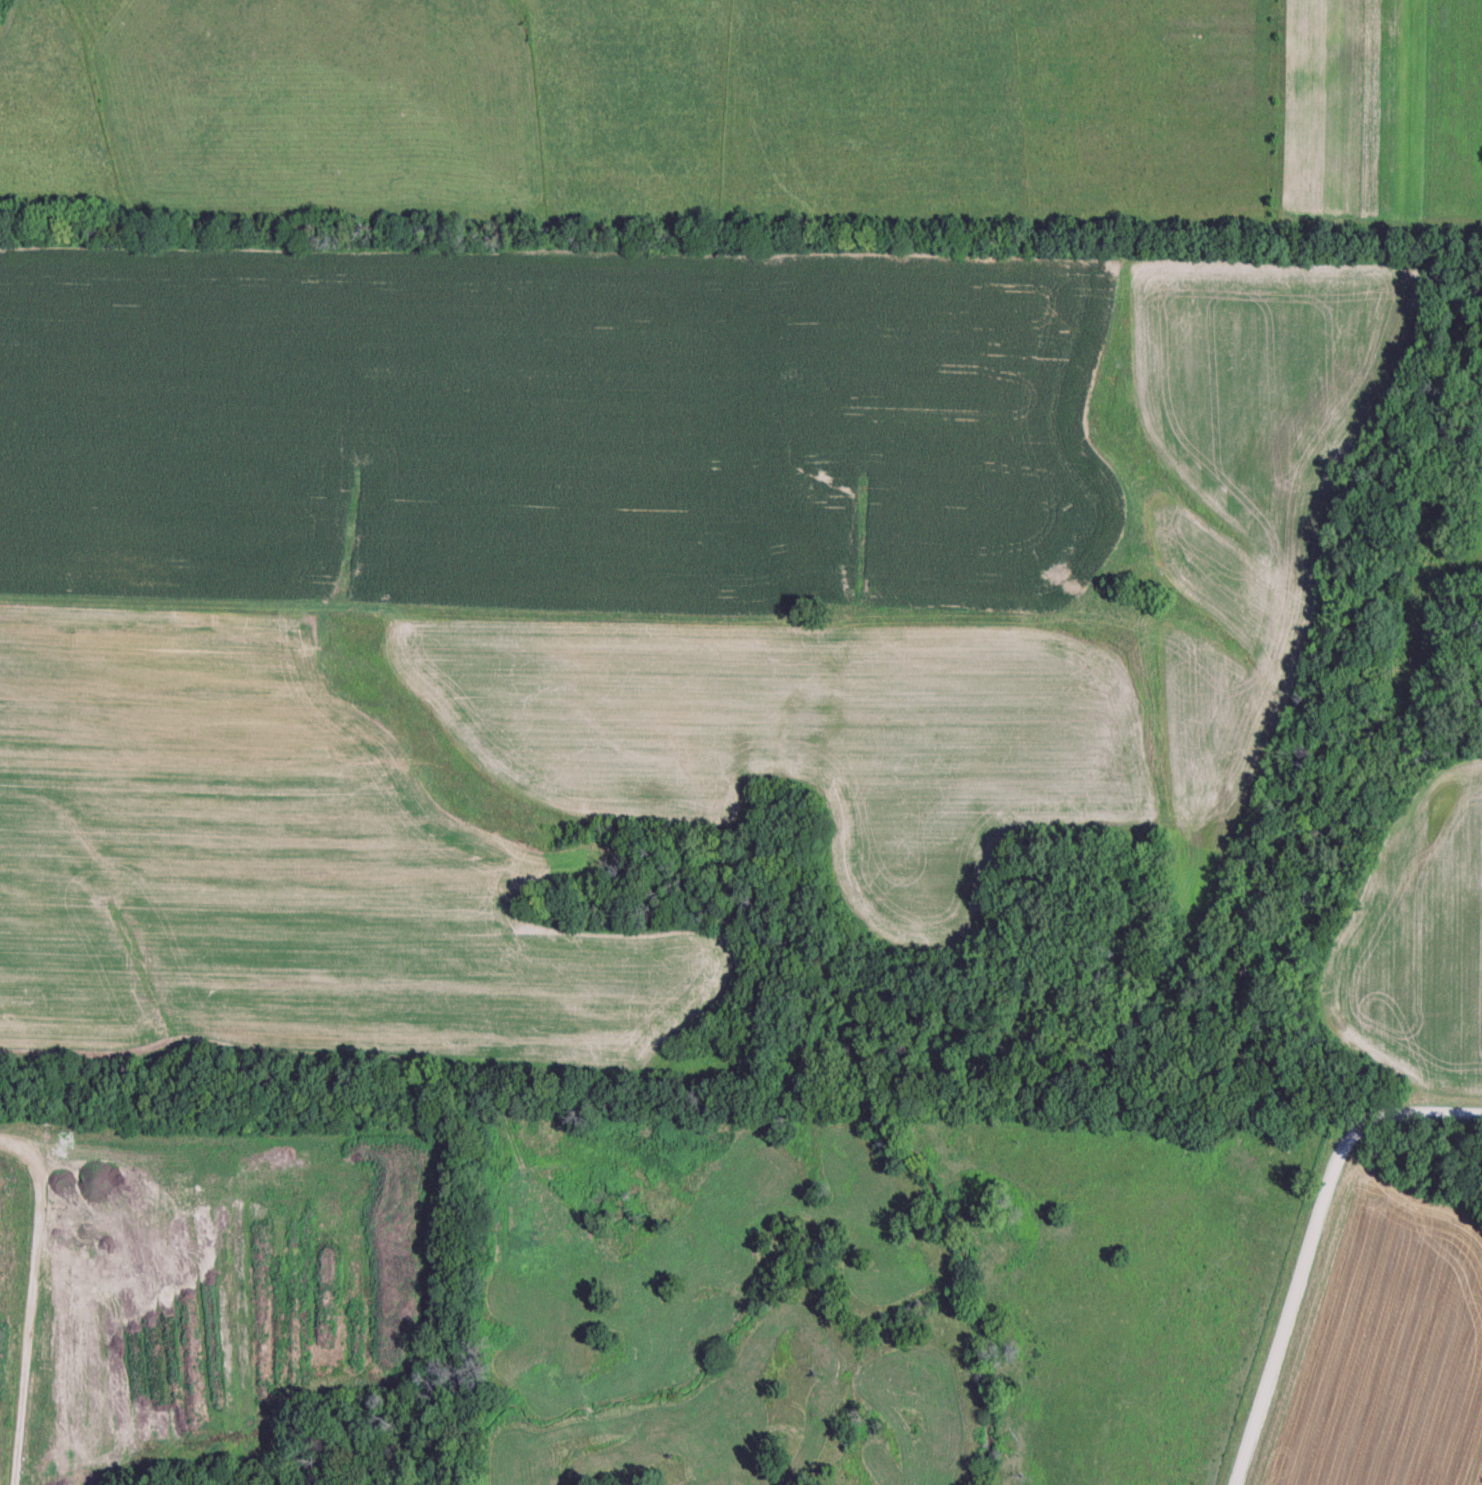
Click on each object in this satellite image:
road: (1310, 1245)

